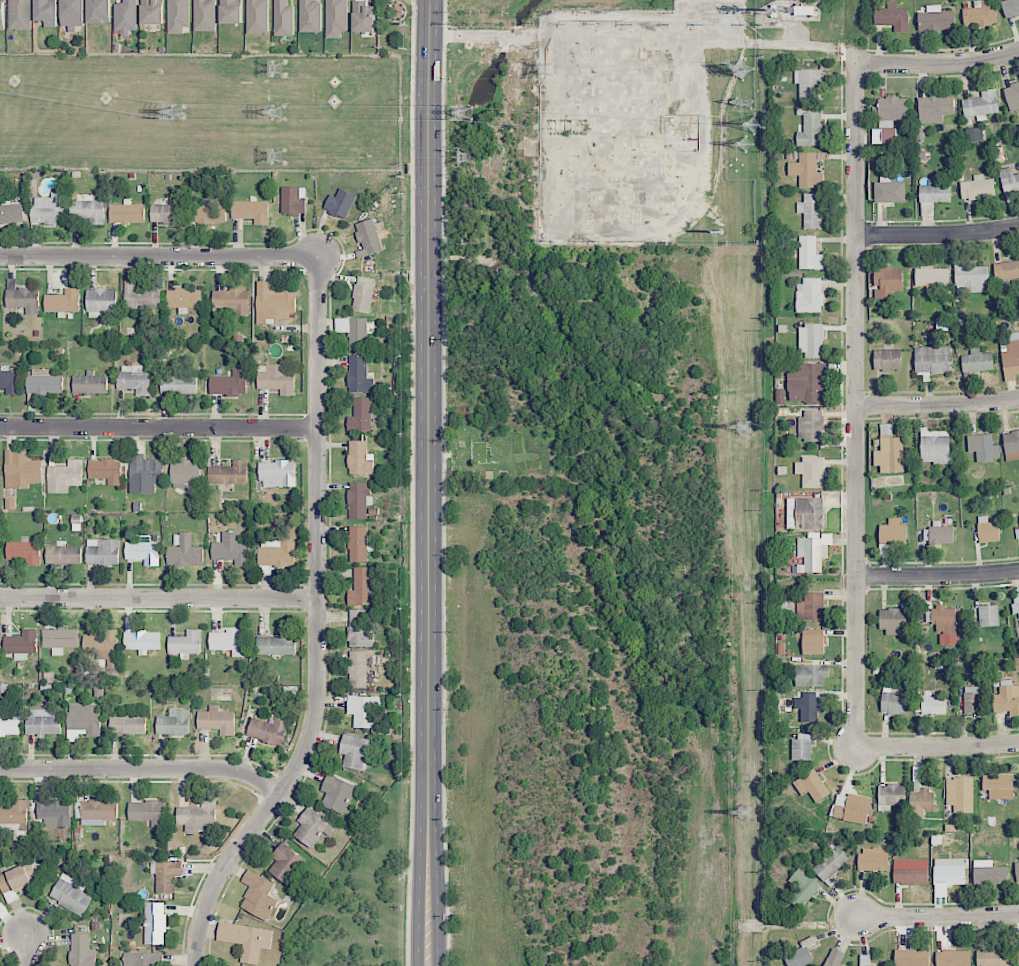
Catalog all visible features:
building: (1010, 8)
building: (804, 9)
building: (774, 10)
building: (98, 11)
building: (152, 11)
building: (231, 11)
building: (47, 12)
building: (980, 13)
building: (72, 14)
building: (2, 15)
building: (20, 15)
building: (205, 15)
building: (125, 16)
building: (177, 16)
building: (257, 16)
building: (310, 16)
building: (362, 17)
building: (892, 17)
building: (283, 18)
building: (336, 18)
building: (936, 19)
road: (789, 32)
road: (484, 35)
road: (689, 39)
road: (846, 55)
road: (937, 62)
power tower: (277, 68)
power tower: (547, 68)
power tower: (744, 69)
building: (809, 83)
building: (1012, 96)
power tower: (743, 103)
building: (981, 104)
building: (937, 107)
power tower: (176, 112)
power tower: (277, 112)
power tower: (465, 112)
power tower: (754, 123)
building: (810, 130)
building: (974, 134)
building: (888, 135)
power tower: (744, 143)
power tower: (278, 156)
power tower: (466, 156)
building: (807, 169)
building: (1009, 181)
building: (977, 187)
building: (889, 191)
building: (934, 191)
building: (292, 201)
building: (340, 203)
building: (48, 209)
building: (10, 210)
building: (88, 210)
building: (811, 210)
building: (168, 211)
building: (251, 211)
building: (127, 213)
building: (208, 213)
power tower: (721, 232)
road: (937, 235)
building: (369, 236)
building: (809, 253)
road: (160, 255)
building: (1006, 270)
building: (932, 276)
building: (969, 276)
building: (887, 281)
building: (363, 294)
building: (810, 294)
building: (22, 297)
building: (140, 297)
building: (184, 297)
building: (63, 301)
building: (100, 301)
building: (231, 301)
building: (273, 303)
building: (354, 331)
building: (811, 340)
building: (1010, 355)
building: (887, 359)
building: (932, 360)
building: (977, 361)
building: (359, 375)
building: (276, 378)
building: (134, 379)
building: (9, 381)
building: (44, 382)
building: (807, 382)
building: (90, 383)
building: (178, 383)
building: (229, 383)
road: (855, 405)
road: (937, 407)
building: (360, 415)
building: (811, 425)
road: (159, 428)
power tower: (746, 430)
building: (1011, 445)
building: (936, 446)
building: (983, 447)
building: (890, 454)
building: (360, 458)
building: (21, 470)
building: (105, 470)
building: (810, 471)
building: (185, 473)
building: (229, 473)
building: (277, 473)
building: (144, 474)
building: (64, 476)
road: (427, 482)
building: (358, 500)
building: (805, 513)
building: (987, 529)
building: (892, 532)
building: (941, 533)
building: (359, 543)
building: (231, 549)
building: (24, 551)
building: (184, 551)
building: (102, 552)
building: (143, 552)
building: (813, 552)
building: (277, 553)
building: (63, 554)
road: (938, 576)
building: (361, 587)
road: (158, 599)
building: (1016, 604)
building: (811, 607)
building: (988, 615)
building: (892, 620)
building: (944, 624)
road: (317, 626)
building: (360, 628)
building: (60, 638)
building: (142, 640)
building: (813, 641)
building: (229, 642)
building: (21, 644)
building: (185, 644)
building: (277, 644)
building: (103, 645)
building: (358, 669)
building: (811, 675)
building: (1007, 698)
building: (973, 700)
building: (894, 701)
building: (934, 705)
building: (808, 706)
building: (363, 709)
building: (217, 720)
building: (42, 721)
building: (82, 721)
building: (174, 723)
building: (10, 725)
building: (127, 725)
building: (268, 730)
road: (938, 746)
building: (801, 747)
building: (354, 751)
road: (143, 767)
building: (812, 785)
building: (999, 786)
building: (337, 793)
building: (960, 794)
building: (890, 796)
building: (851, 808)
building: (52, 810)
building: (13, 811)
building: (95, 811)
building: (148, 812)
power tower: (748, 814)
building: (198, 816)
building: (313, 827)
building: (873, 858)
building: (286, 863)
building: (831, 864)
building: (1017, 870)
building: (949, 871)
building: (166, 874)
building: (910, 874)
building: (989, 874)
building: (13, 882)
building: (802, 888)
building: (71, 894)
building: (258, 895)
building: (1, 906)
road: (937, 916)
building: (154, 923)
building: (246, 939)
building: (81, 951)
road: (27, 953)
building: (909, 953)
building: (1018, 953)
building: (801, 954)
building: (834, 957)
building: (993, 957)
building: (953, 958)
building: (142, 959)

